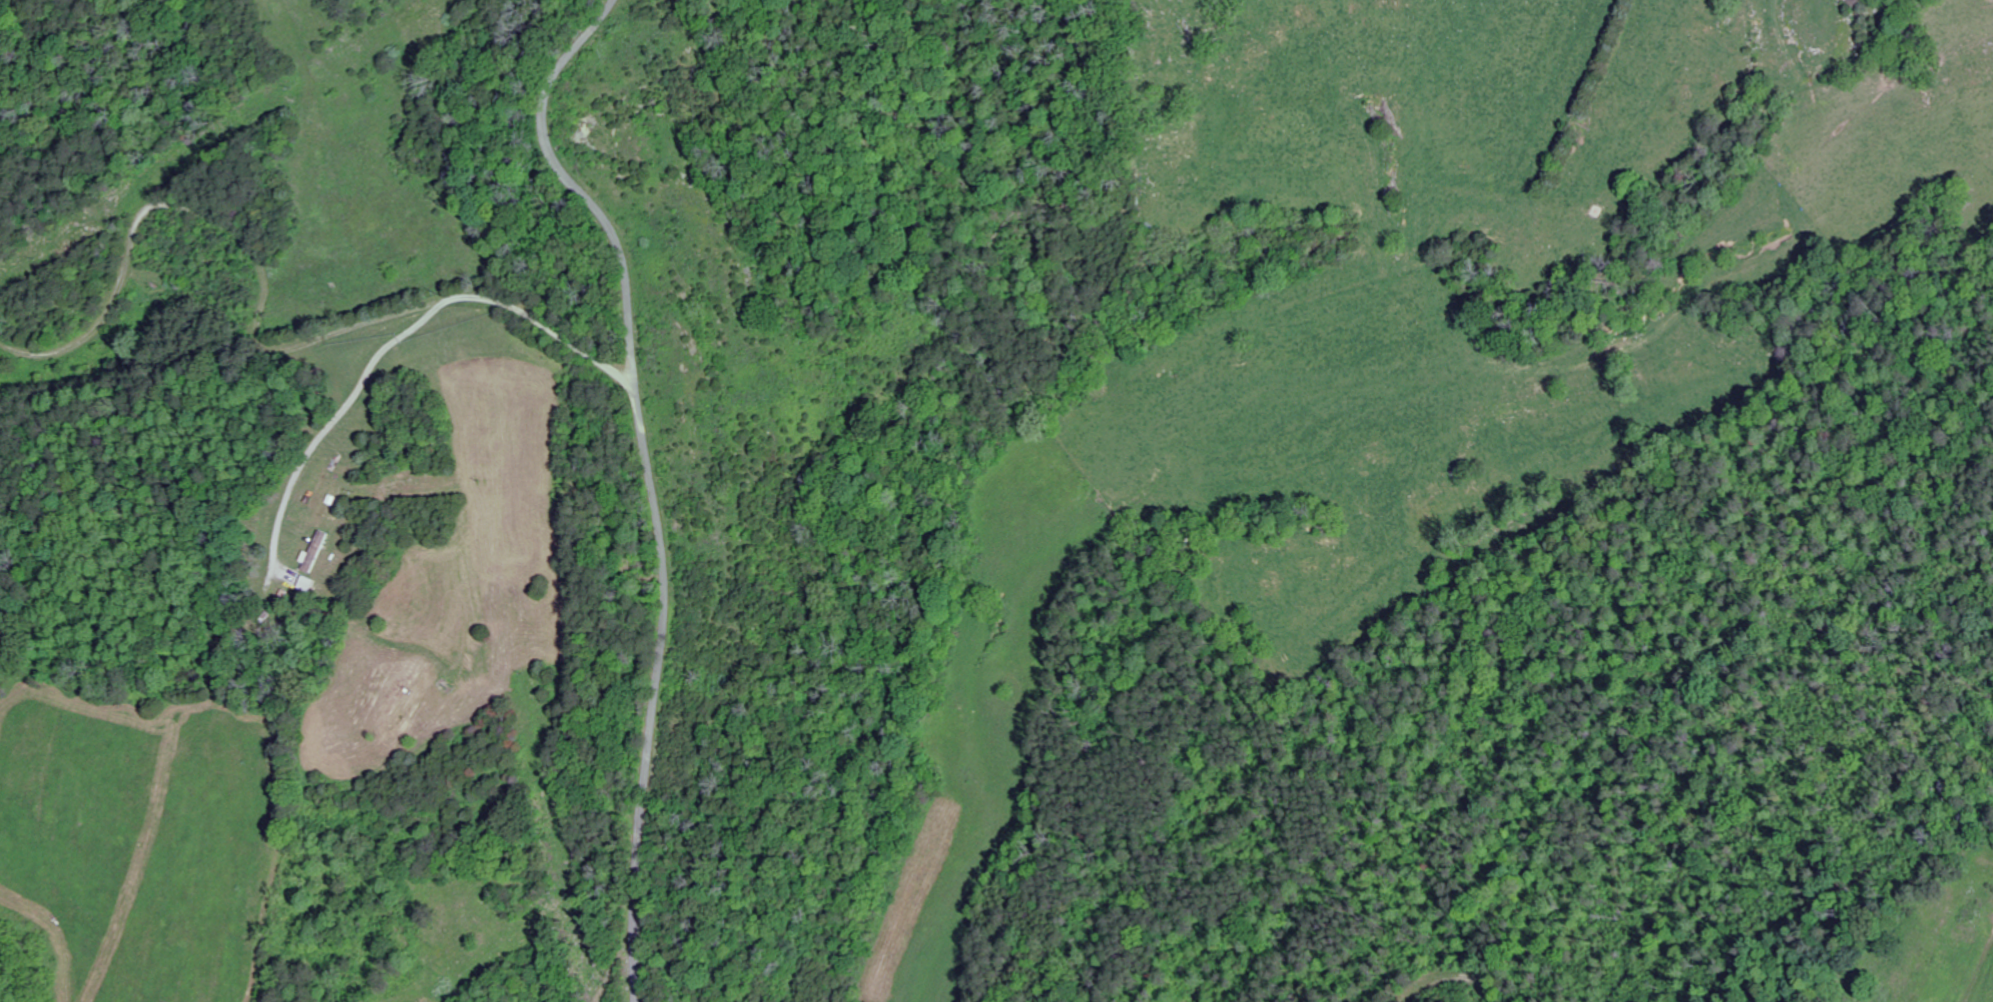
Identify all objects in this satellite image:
road: (649, 477)
building: (318, 551)
building: (310, 583)

